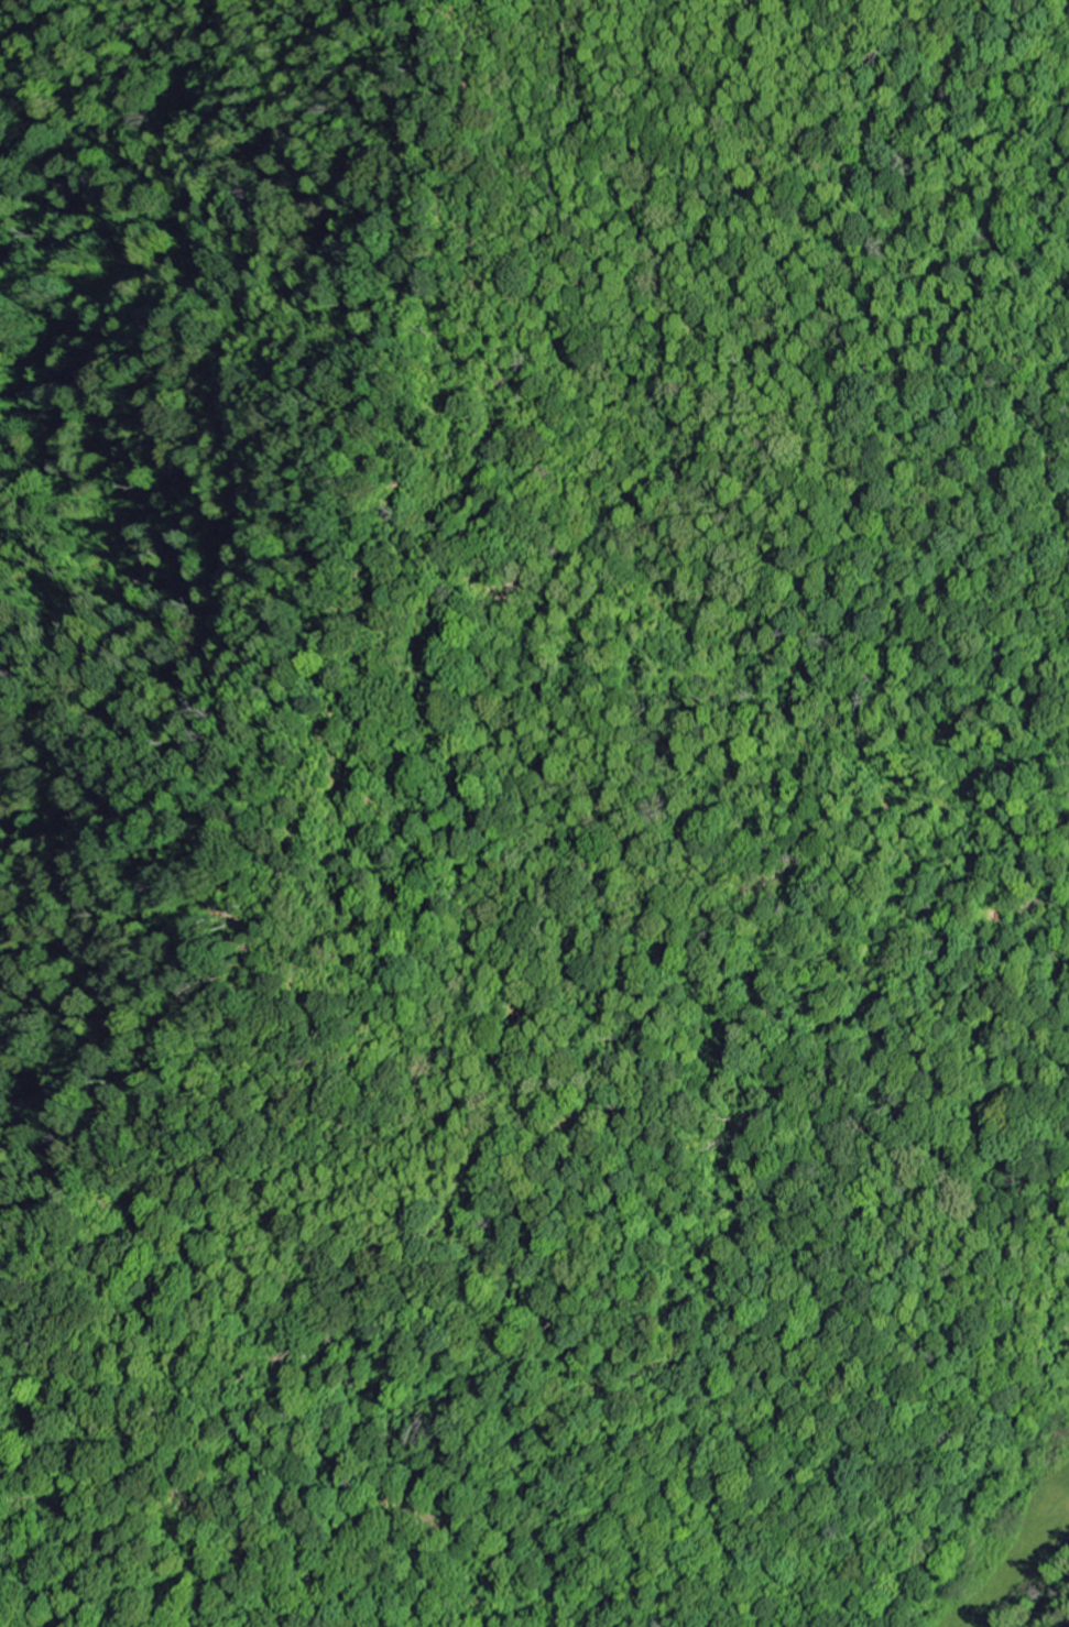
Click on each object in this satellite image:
road: (1068, 1626)

